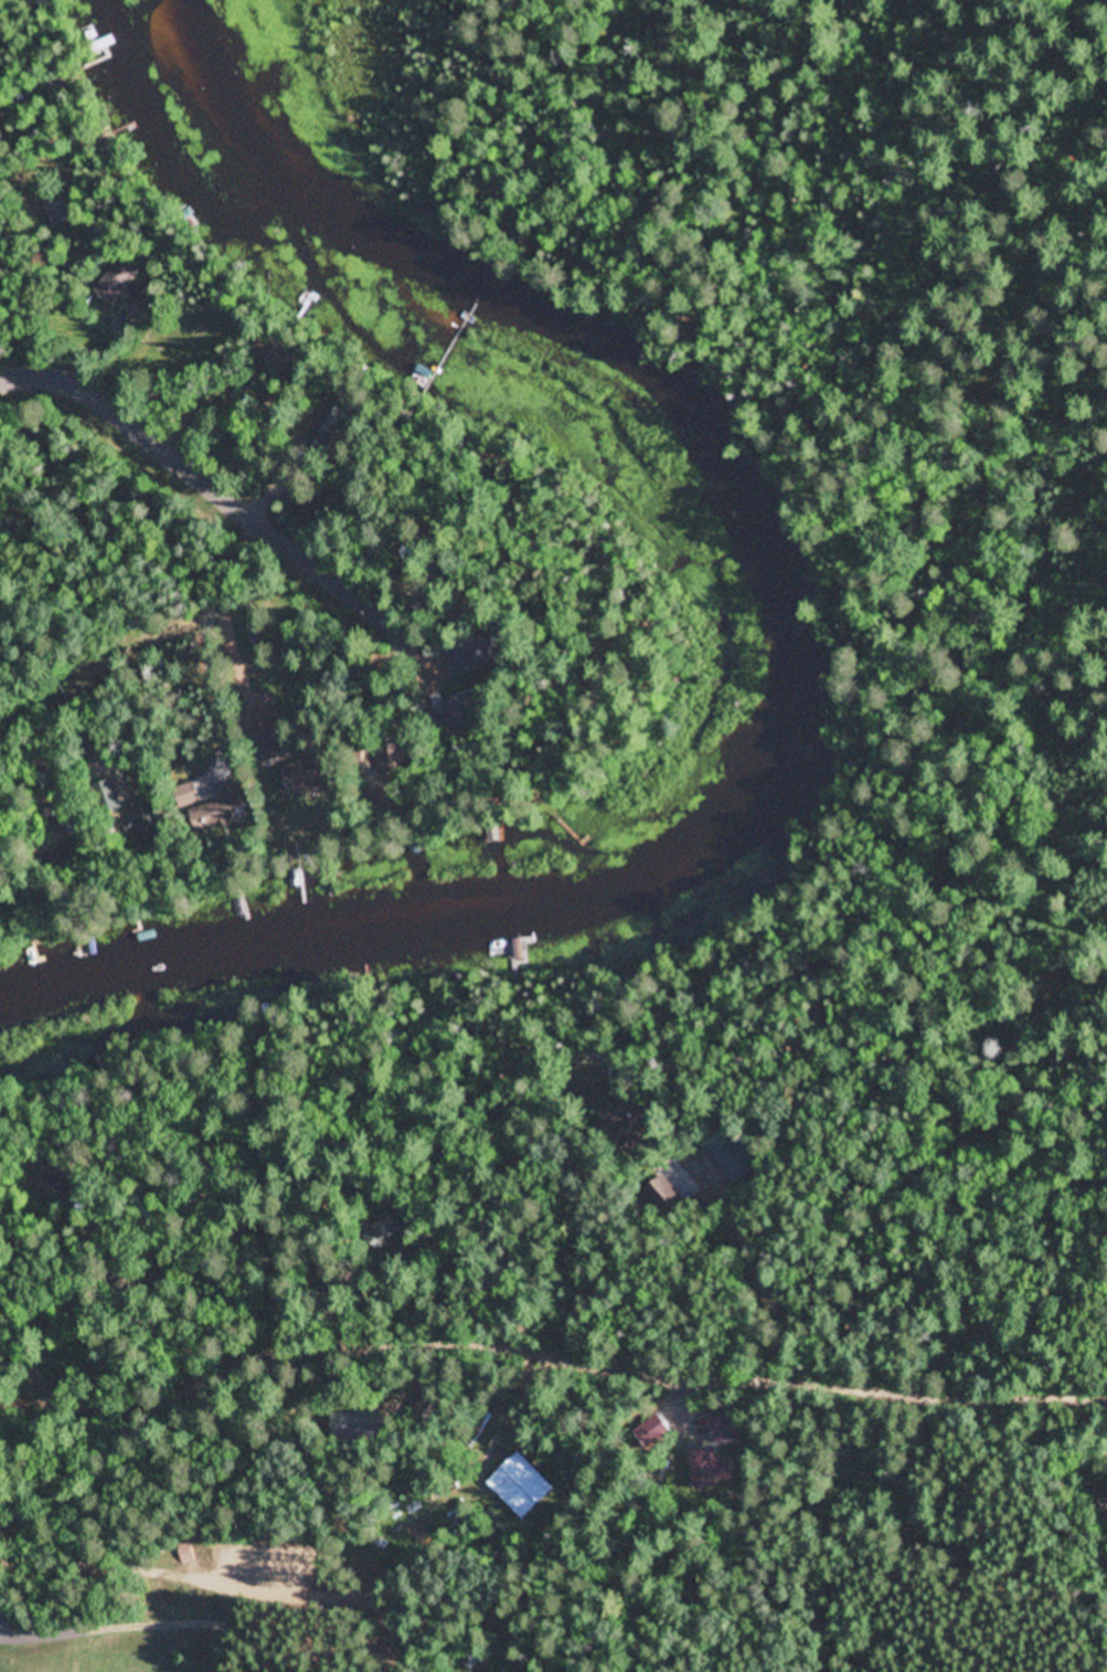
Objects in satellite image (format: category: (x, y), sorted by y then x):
building: (57, 210)
building: (118, 279)
building: (210, 322)
road: (148, 421)
road: (374, 586)
road: (178, 620)
building: (453, 663)
river: (786, 665)
road: (25, 713)
building: (268, 747)
building: (306, 779)
building: (221, 809)
building: (149, 821)
road: (570, 1351)
building: (692, 1472)
building: (519, 1486)
road: (402, 1648)

